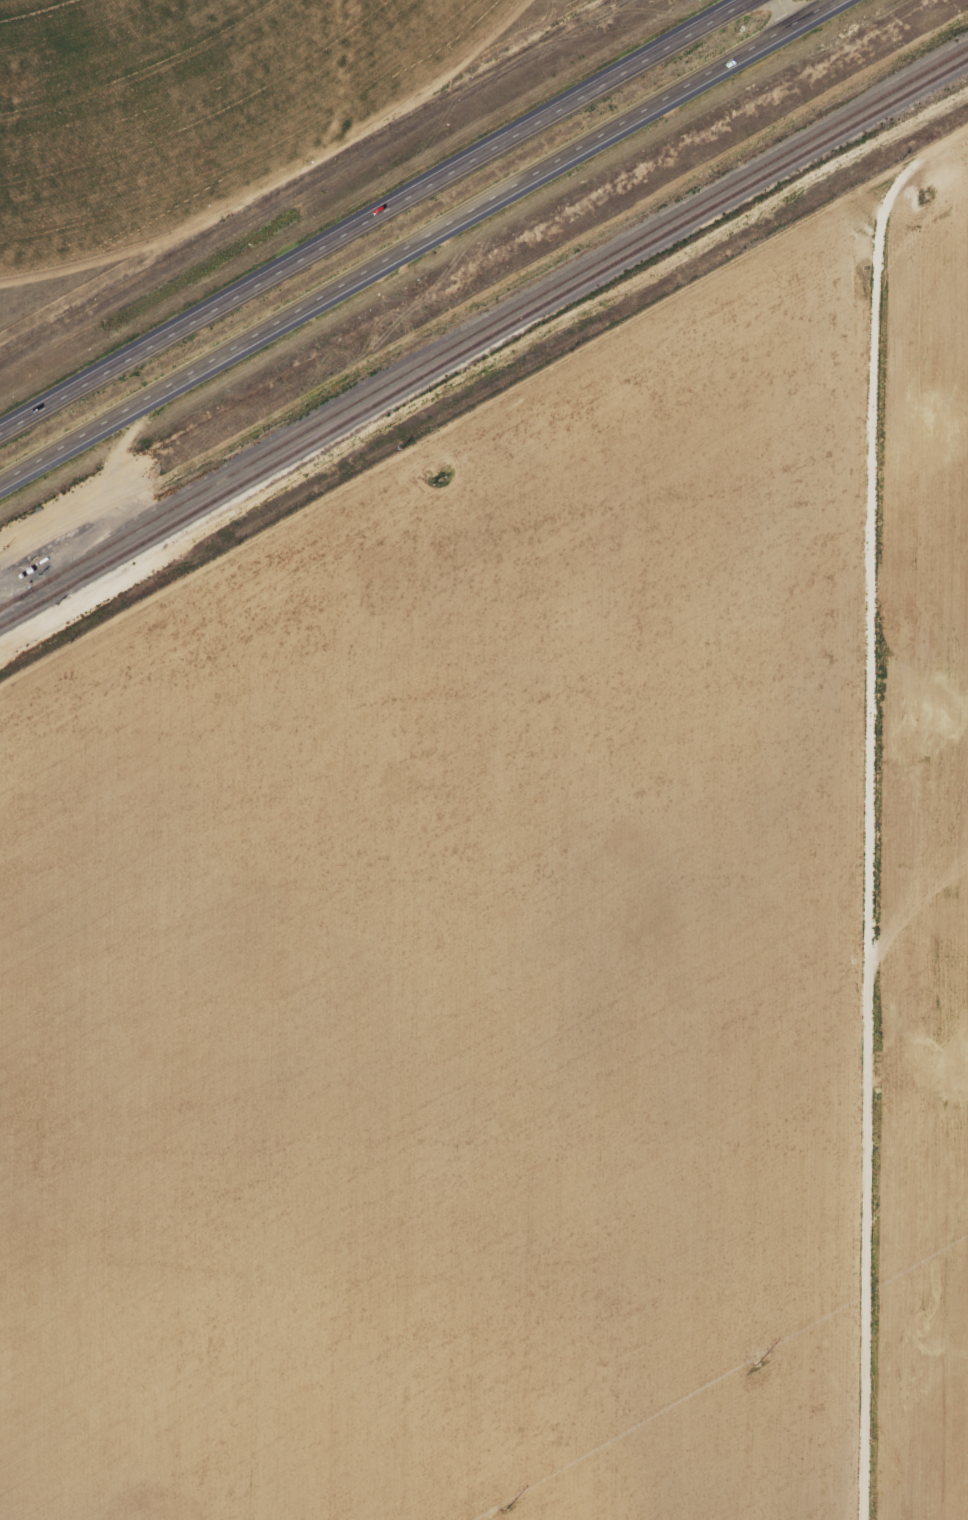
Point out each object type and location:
road: (373, 216)
road: (423, 245)
railway: (484, 329)
railway: (482, 340)
power tower: (756, 1358)
power tower: (486, 1516)

